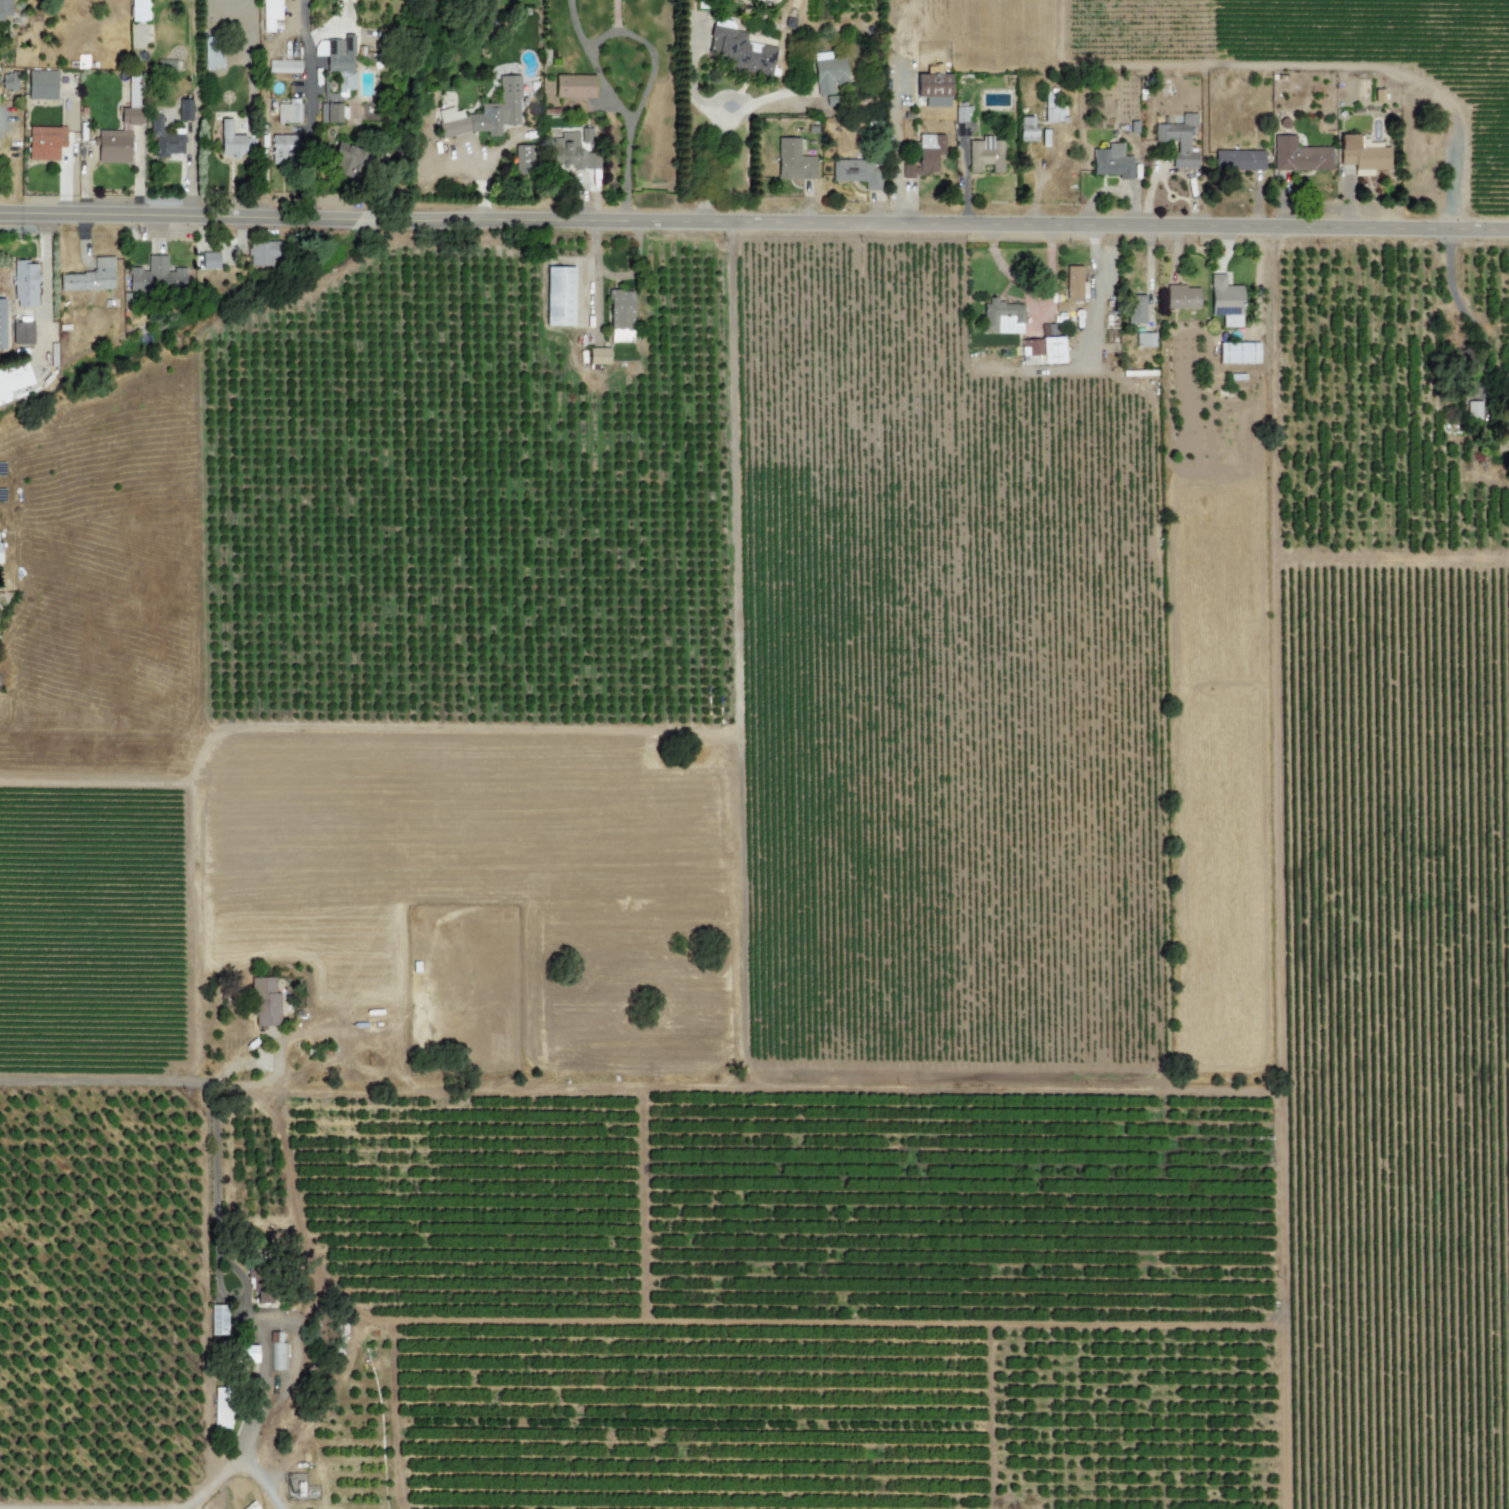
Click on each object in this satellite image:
building: (4, 9)
building: (138, 10)
building: (270, 13)
building: (737, 50)
building: (212, 52)
building: (338, 58)
road: (653, 60)
building: (283, 66)
building: (826, 77)
building: (8, 81)
building: (41, 85)
building: (574, 86)
building: (933, 89)
building: (1378, 95)
road: (307, 108)
building: (184, 109)
building: (1052, 109)
building: (486, 112)
building: (288, 113)
building: (329, 113)
building: (962, 118)
building: (122, 125)
building: (1027, 129)
building: (164, 139)
building: (1178, 139)
building: (230, 140)
building: (45, 142)
building: (282, 148)
building: (574, 150)
building: (985, 154)
building: (925, 155)
building: (1298, 155)
building: (1361, 156)
building: (523, 159)
building: (345, 160)
building: (1238, 160)
building: (793, 161)
building: (1111, 161)
building: (856, 172)
road: (481, 176)
road: (177, 215)
road: (365, 218)
road: (942, 226)
building: (262, 253)
building: (209, 260)
road: (589, 271)
building: (155, 276)
building: (90, 277)
building: (1073, 282)
building: (24, 284)
road: (43, 288)
building: (559, 296)
building: (1182, 297)
building: (1225, 301)
building: (1135, 310)
road: (1466, 312)
building: (620, 314)
building: (2, 324)
building: (22, 333)
building: (1144, 340)
building: (1043, 348)
building: (1237, 352)
building: (598, 356)
building: (1473, 410)
building: (1503, 441)
building: (0, 549)
building: (264, 1002)
road: (211, 1112)
building: (265, 1296)
building: (217, 1320)
road: (264, 1335)
building: (249, 1353)
building: (221, 1408)
road: (232, 1458)

